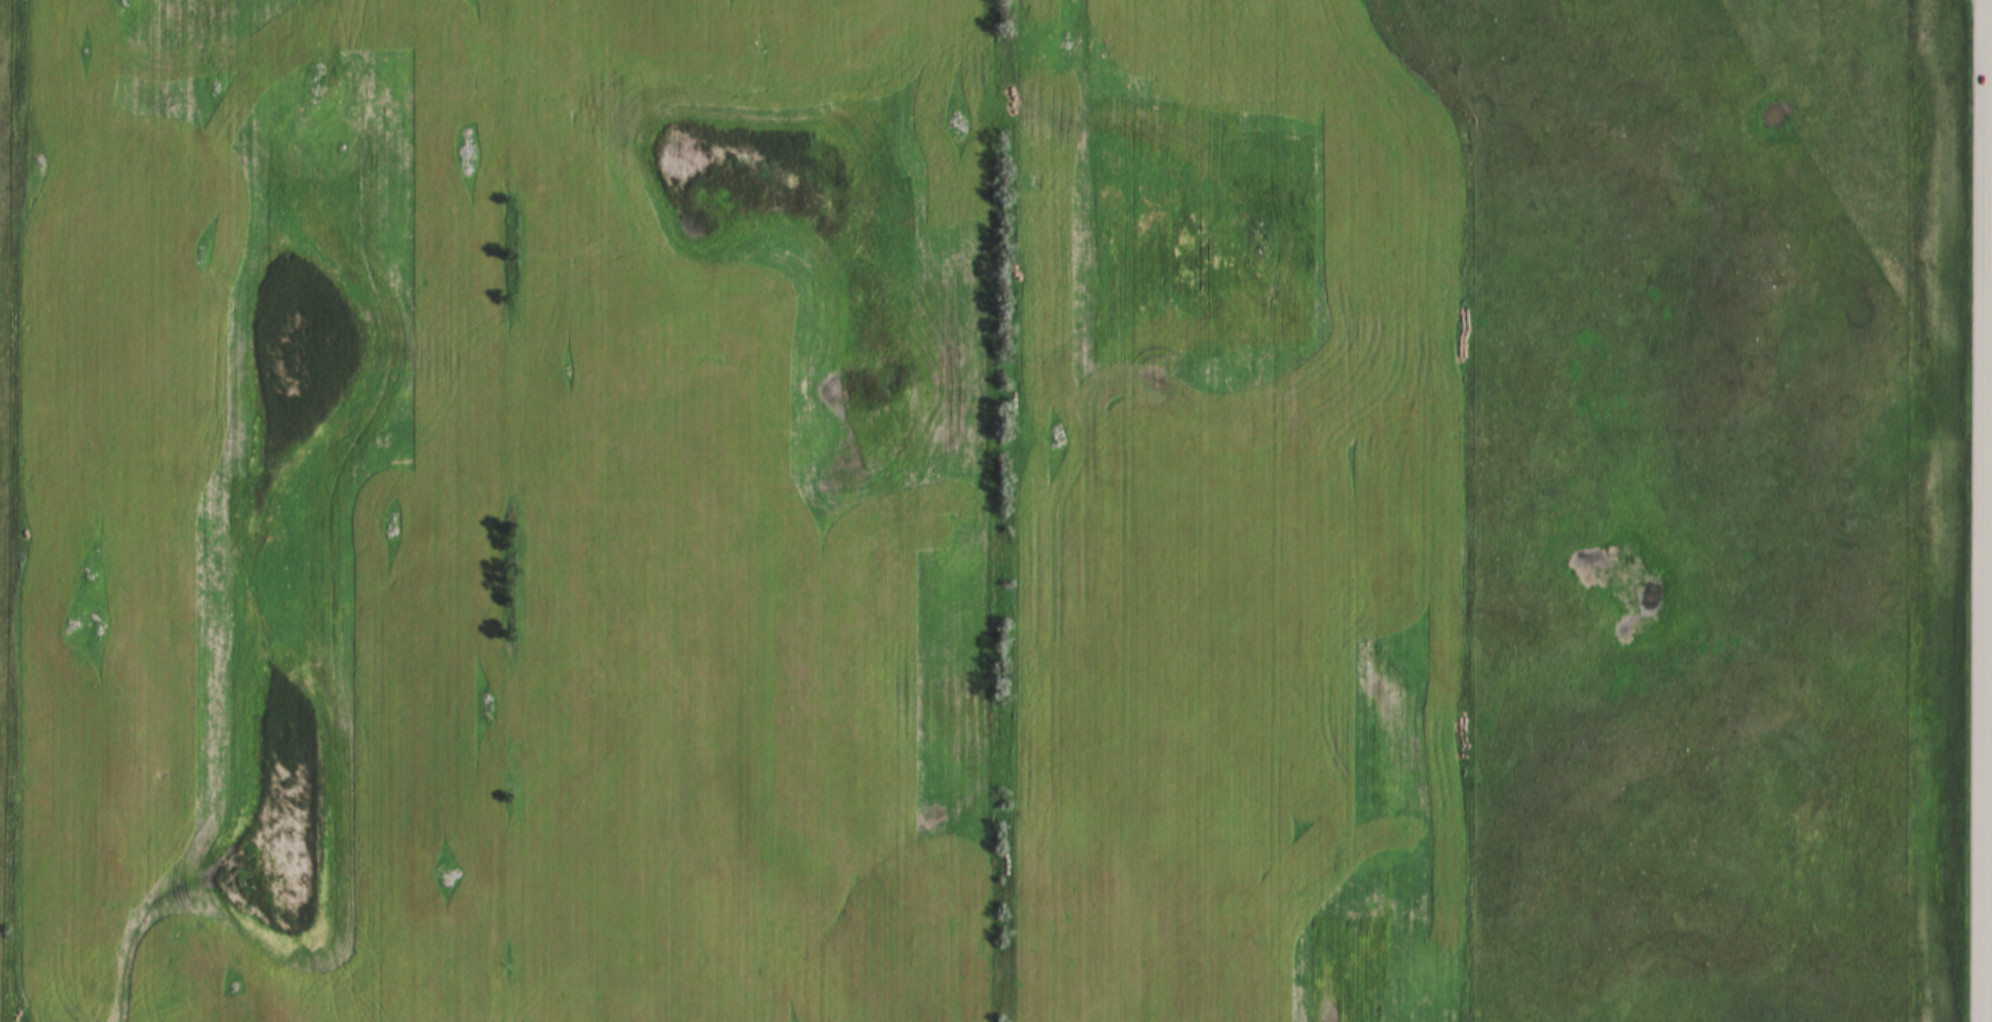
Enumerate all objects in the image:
road: (1983, 510)

